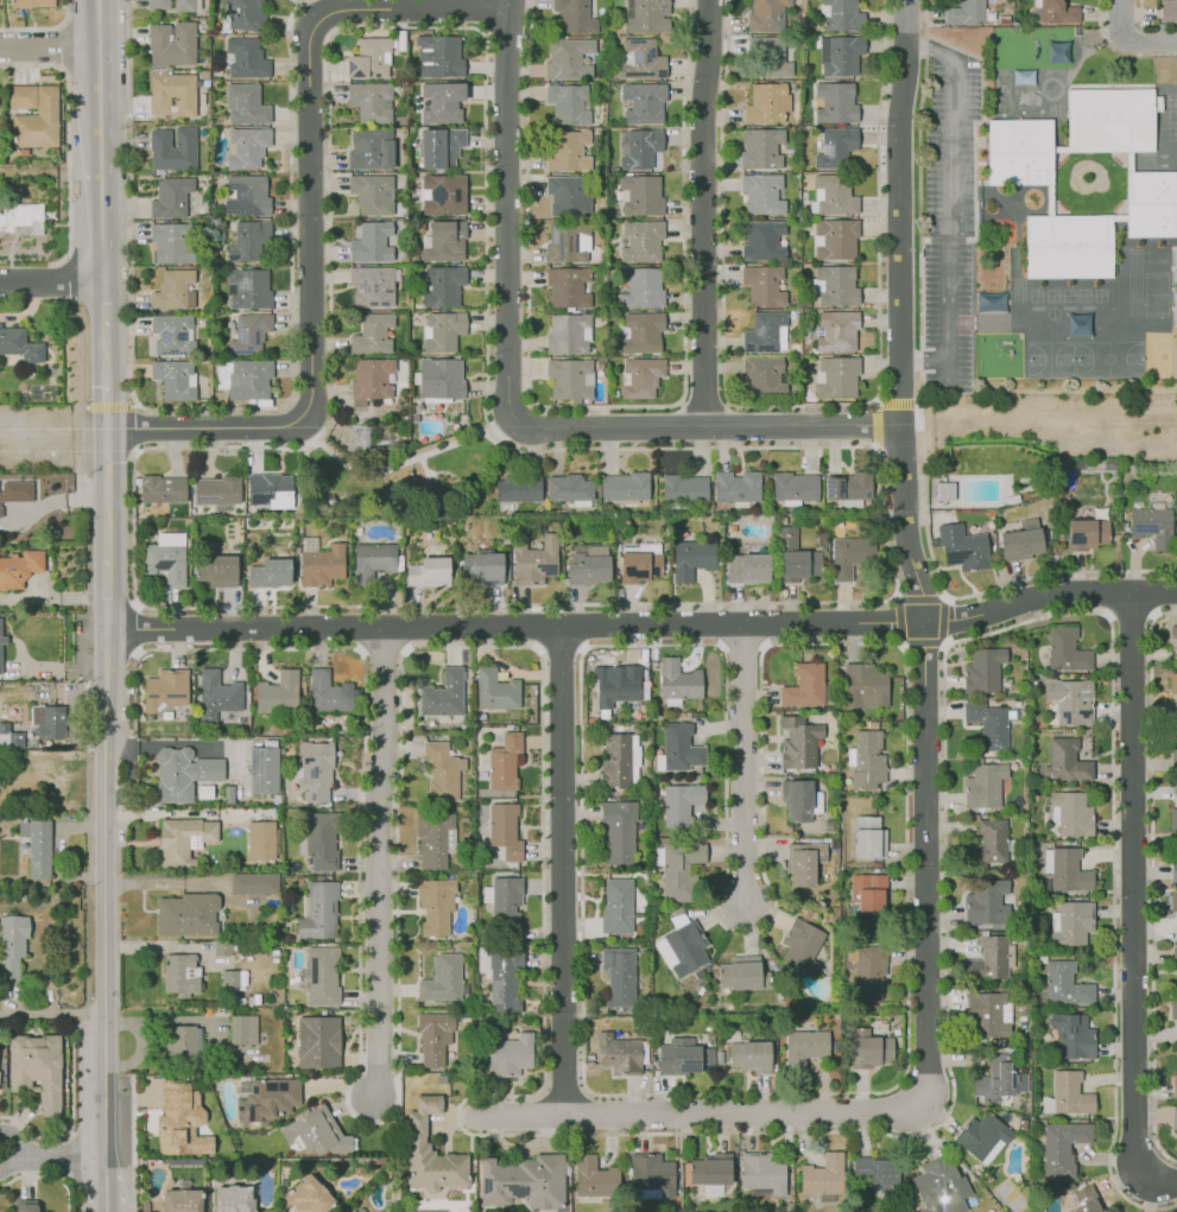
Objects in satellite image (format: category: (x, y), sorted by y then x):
building: (33, 2)
building: (171, 4)
building: (1169, 11)
building: (966, 12)
building: (1053, 12)
building: (246, 14)
building: (842, 14)
building: (574, 15)
building: (766, 15)
building: (648, 17)
building: (1005, 19)
road: (1121, 19)
road: (1140, 20)
road: (96, 24)
road: (42, 27)
road: (1101, 33)
road: (1148, 42)
building: (171, 43)
road: (49, 46)
building: (839, 53)
road: (1151, 53)
building: (441, 55)
building: (770, 56)
building: (245, 57)
building: (567, 58)
building: (369, 59)
building: (640, 59)
building: (171, 94)
building: (371, 101)
building: (442, 102)
building: (568, 102)
building: (643, 102)
building: (834, 102)
building: (245, 103)
building: (767, 103)
building: (33, 115)
road: (97, 115)
road: (67, 141)
building: (836, 145)
building: (247, 146)
building: (441, 147)
building: (171, 148)
building: (641, 148)
building: (762, 148)
building: (369, 150)
building: (568, 151)
building: (1019, 176)
building: (372, 192)
building: (641, 193)
building: (761, 193)
building: (249, 195)
building: (442, 196)
building: (567, 196)
building: (834, 196)
building: (170, 197)
road: (947, 205)
road: (703, 214)
parking lot: (948, 216)
building: (21, 218)
road: (309, 220)
road: (99, 231)
road: (919, 237)
building: (248, 240)
building: (764, 240)
building: (835, 240)
building: (445, 241)
building: (640, 241)
building: (172, 242)
building: (371, 242)
building: (568, 243)
building: (1173, 264)
road: (52, 281)
building: (443, 284)
building: (764, 285)
building: (372, 286)
building: (568, 286)
building: (836, 286)
building: (641, 287)
building: (172, 288)
building: (248, 288)
road: (107, 303)
building: (442, 330)
building: (836, 331)
building: (567, 332)
building: (765, 332)
building: (171, 334)
building: (249, 334)
building: (372, 334)
building: (641, 334)
building: (19, 344)
road: (106, 355)
building: (764, 375)
building: (640, 376)
building: (837, 376)
building: (173, 377)
building: (371, 377)
building: (569, 377)
building: (248, 379)
building: (441, 379)
road: (508, 402)
road: (106, 406)
power tower: (357, 439)
road: (399, 463)
road: (424, 468)
park: (400, 477)
building: (625, 486)
building: (736, 486)
building: (793, 486)
building: (854, 486)
building: (568, 488)
building: (15, 489)
building: (162, 489)
building: (519, 489)
building: (683, 489)
building: (216, 490)
building: (270, 490)
building: (944, 491)
road: (108, 493)
building: (327, 502)
building: (1151, 525)
building: (1088, 533)
building: (1021, 544)
building: (961, 546)
road: (910, 552)
building: (796, 556)
building: (849, 556)
building: (691, 558)
building: (373, 560)
building: (533, 560)
building: (164, 563)
building: (322, 565)
building: (639, 566)
building: (19, 567)
building: (483, 567)
building: (588, 569)
building: (749, 569)
building: (216, 570)
building: (268, 571)
building: (429, 571)
road: (1000, 586)
road: (110, 594)
road: (947, 598)
road: (942, 599)
road: (645, 626)
building: (1172, 639)
building: (2, 640)
building: (1065, 651)
building: (0, 654)
building: (983, 672)
building: (677, 680)
building: (1172, 683)
building: (619, 685)
building: (804, 685)
building: (862, 686)
building: (165, 689)
building: (494, 689)
building: (278, 692)
building: (329, 693)
building: (216, 694)
building: (443, 694)
building: (1070, 700)
building: (52, 723)
building: (987, 724)
building: (799, 742)
building: (681, 748)
building: (504, 761)
building: (615, 761)
building: (867, 761)
road: (743, 762)
building: (1067, 762)
building: (264, 769)
building: (316, 769)
building: (442, 770)
building: (182, 773)
building: (983, 785)
building: (204, 792)
building: (228, 794)
building: (796, 799)
building: (681, 802)
building: (1072, 812)
building: (1172, 818)
building: (504, 829)
building: (619, 831)
building: (868, 837)
building: (432, 838)
building: (183, 839)
building: (260, 839)
building: (319, 839)
building: (988, 842)
building: (36, 846)
building: (801, 862)
road: (379, 863)
road: (561, 870)
building: (679, 870)
building: (1069, 870)
building: (1173, 870)
building: (253, 883)
road: (103, 890)
building: (868, 894)
road: (1132, 900)
building: (1173, 900)
building: (506, 901)
building: (987, 902)
building: (436, 903)
building: (616, 906)
building: (319, 910)
building: (188, 914)
building: (1072, 925)
building: (11, 945)
building: (802, 945)
building: (221, 946)
building: (686, 948)
building: (1175, 956)
building: (988, 959)
building: (868, 971)
building: (743, 973)
building: (181, 975)
building: (322, 976)
building: (619, 976)
building: (233, 978)
building: (442, 978)
building: (504, 981)
building: (1065, 984)
building: (1173, 1009)
building: (988, 1014)
road: (51, 1016)
building: (241, 1029)
building: (1072, 1035)
building: (434, 1036)
building: (317, 1041)
building: (181, 1045)
building: (805, 1047)
building: (869, 1048)
building: (512, 1054)
building: (618, 1054)
building: (678, 1056)
building: (749, 1056)
building: (36, 1068)
building: (999, 1078)
building: (1175, 1086)
building: (1069, 1093)
building: (267, 1099)
road: (697, 1113)
building: (1173, 1118)
building: (181, 1119)
building: (315, 1131)
building: (982, 1137)
building: (1062, 1147)
building: (431, 1151)
road: (52, 1157)
building: (710, 1169)
building: (764, 1170)
building: (877, 1172)
building: (651, 1173)
building: (823, 1175)
building: (595, 1178)
building: (523, 1180)
road: (105, 1182)
building: (941, 1184)
building: (308, 1197)
building: (234, 1199)
building: (181, 1200)
building: (1083, 1200)
building: (25, 1206)
building: (357, 1210)
building: (352, 1211)

